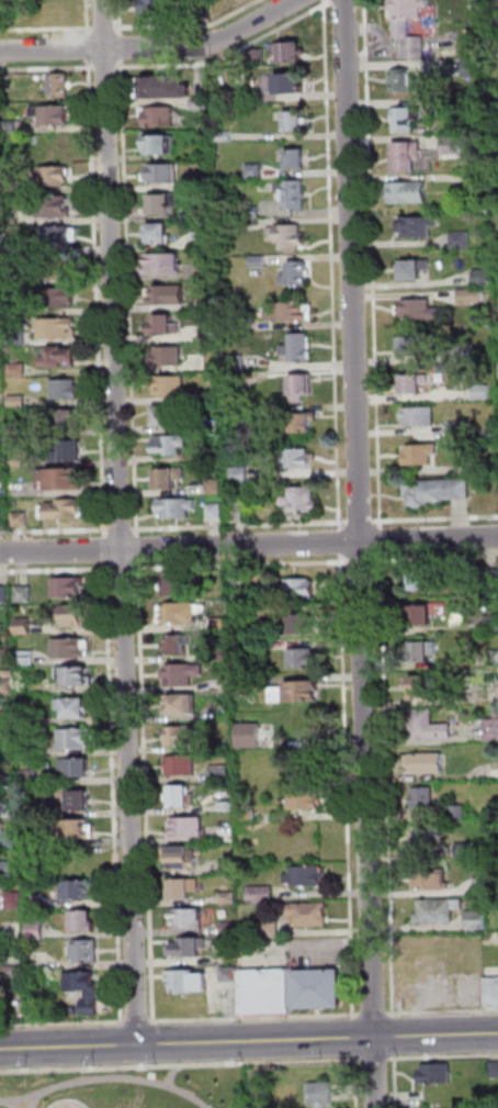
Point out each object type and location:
building: (495, 3)
building: (4, 4)
building: (479, 4)
building: (156, 9)
building: (205, 11)
road: (88, 18)
road: (52, 27)
building: (403, 27)
road: (89, 46)
road: (152, 47)
road: (123, 53)
building: (291, 54)
road: (231, 55)
building: (256, 57)
road: (106, 67)
building: (473, 67)
road: (47, 68)
building: (404, 80)
building: (4, 81)
building: (60, 86)
building: (291, 86)
building: (167, 88)
building: (224, 97)
building: (203, 104)
building: (409, 113)
building: (53, 115)
building: (158, 116)
building: (295, 122)
building: (9, 127)
building: (225, 135)
building: (161, 145)
building: (453, 147)
building: (408, 157)
building: (297, 159)
building: (256, 171)
building: (163, 174)
building: (54, 175)
building: (204, 181)
building: (484, 183)
building: (10, 187)
building: (409, 193)
building: (294, 194)
building: (166, 203)
building: (53, 205)
building: (253, 211)
building: (11, 216)
building: (229, 226)
building: (419, 226)
building: (58, 235)
building: (160, 235)
building: (288, 236)
building: (204, 239)
building: (462, 239)
building: (15, 247)
building: (260, 261)
road: (335, 264)
road: (374, 264)
building: (166, 265)
building: (63, 266)
building: (414, 270)
building: (296, 275)
building: (484, 277)
building: (169, 294)
building: (60, 296)
road: (131, 296)
building: (471, 296)
road: (99, 298)
building: (208, 303)
building: (420, 311)
building: (291, 312)
building: (242, 323)
building: (165, 325)
building: (59, 328)
building: (19, 334)
building: (211, 334)
building: (414, 346)
building: (297, 349)
building: (467, 351)
building: (169, 356)
building: (60, 358)
building: (237, 362)
building: (19, 370)
building: (414, 384)
building: (66, 387)
building: (171, 387)
building: (301, 388)
building: (483, 391)
building: (213, 396)
building: (19, 401)
building: (167, 415)
building: (72, 417)
building: (419, 417)
building: (304, 424)
building: (459, 426)
building: (213, 427)
building: (20, 432)
building: (173, 445)
building: (75, 452)
building: (421, 455)
building: (297, 458)
building: (1, 459)
building: (18, 459)
building: (490, 466)
building: (240, 475)
building: (170, 478)
building: (64, 481)
building: (215, 485)
building: (437, 492)
building: (302, 500)
building: (178, 507)
building: (66, 510)
building: (238, 510)
building: (216, 512)
road: (435, 519)
building: (21, 521)
road: (123, 522)
road: (361, 522)
road: (240, 524)
road: (122, 528)
road: (56, 530)
road: (382, 540)
road: (341, 541)
road: (249, 545)
road: (138, 548)
road: (105, 550)
road: (362, 553)
road: (435, 558)
road: (361, 562)
road: (241, 566)
road: (55, 570)
road: (124, 570)
building: (235, 580)
building: (419, 581)
building: (491, 582)
building: (179, 583)
building: (67, 586)
building: (299, 587)
building: (23, 594)
building: (3, 595)
building: (263, 608)
building: (181, 613)
building: (425, 613)
building: (72, 615)
building: (491, 622)
building: (220, 623)
building: (301, 624)
building: (23, 626)
building: (1, 629)
building: (177, 645)
building: (264, 645)
building: (68, 647)
building: (422, 651)
building: (220, 656)
building: (4, 657)
building: (26, 657)
building: (493, 657)
building: (303, 658)
building: (73, 674)
building: (182, 674)
building: (421, 685)
building: (7, 686)
building: (241, 686)
building: (295, 692)
building: (182, 704)
building: (72, 707)
building: (27, 717)
building: (8, 718)
building: (427, 725)
building: (491, 729)
building: (182, 736)
building: (248, 736)
building: (77, 739)
building: (7, 749)
building: (29, 750)
building: (427, 763)
building: (181, 765)
building: (76, 768)
building: (495, 770)
building: (220, 774)
building: (30, 779)
building: (8, 782)
road: (387, 785)
road: (346, 786)
road: (113, 792)
road: (145, 792)
building: (179, 796)
building: (78, 801)
building: (305, 801)
building: (425, 801)
building: (227, 807)
building: (30, 809)
building: (10, 810)
building: (456, 813)
building: (247, 821)
building: (186, 827)
building: (78, 829)
building: (227, 836)
building: (427, 836)
building: (11, 839)
building: (31, 840)
building: (465, 851)
building: (181, 857)
building: (8, 871)
building: (305, 876)
building: (432, 882)
building: (484, 885)
building: (183, 887)
building: (79, 891)
building: (261, 894)
building: (227, 897)
building: (14, 900)
building: (34, 902)
building: (438, 909)
building: (308, 914)
building: (188, 918)
building: (477, 920)
building: (84, 921)
building: (229, 927)
building: (269, 929)
building: (14, 930)
building: (36, 930)
building: (190, 947)
building: (87, 951)
building: (230, 974)
building: (10, 975)
building: (189, 981)
building: (53, 982)
building: (318, 987)
building: (265, 992)
building: (491, 992)
building: (91, 995)
road: (442, 1011)
road: (374, 1014)
road: (256, 1019)
road: (137, 1021)
road: (63, 1025)
road: (394, 1036)
road: (354, 1037)
road: (249, 1040)
road: (443, 1056)
road: (375, 1059)
road: (180, 1064)
building: (495, 1068)
building: (437, 1073)
road: (356, 1082)
road: (395, 1082)
park: (125, 1089)
building: (320, 1094)

